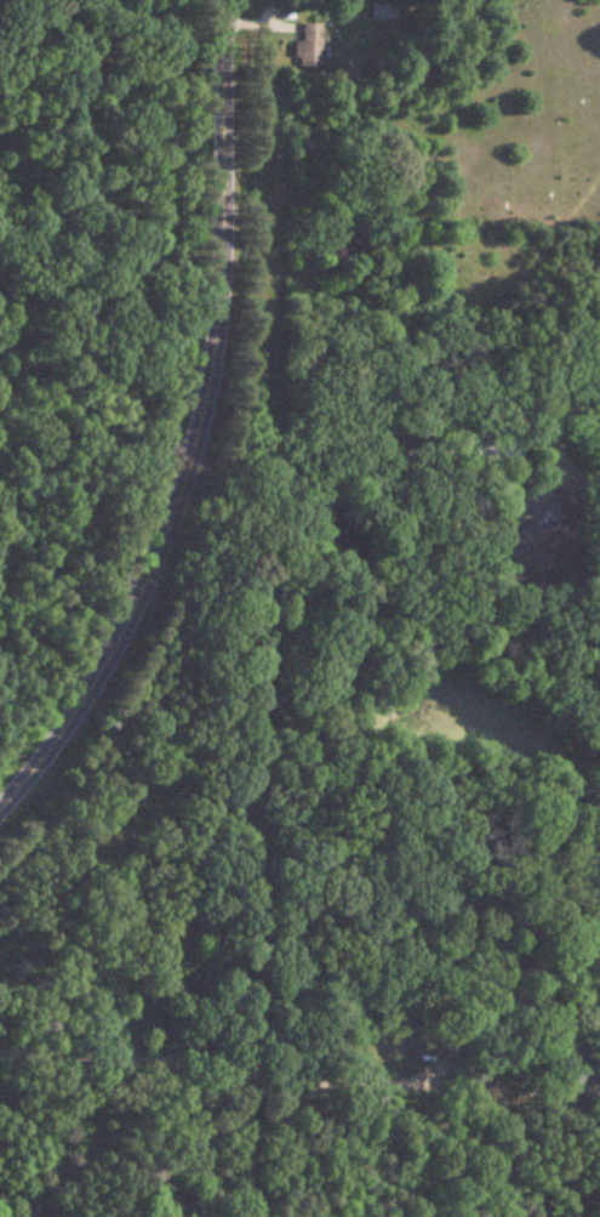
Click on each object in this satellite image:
building: (307, 45)
road: (202, 427)
building: (492, 443)
building: (531, 506)
road: (299, 1076)

